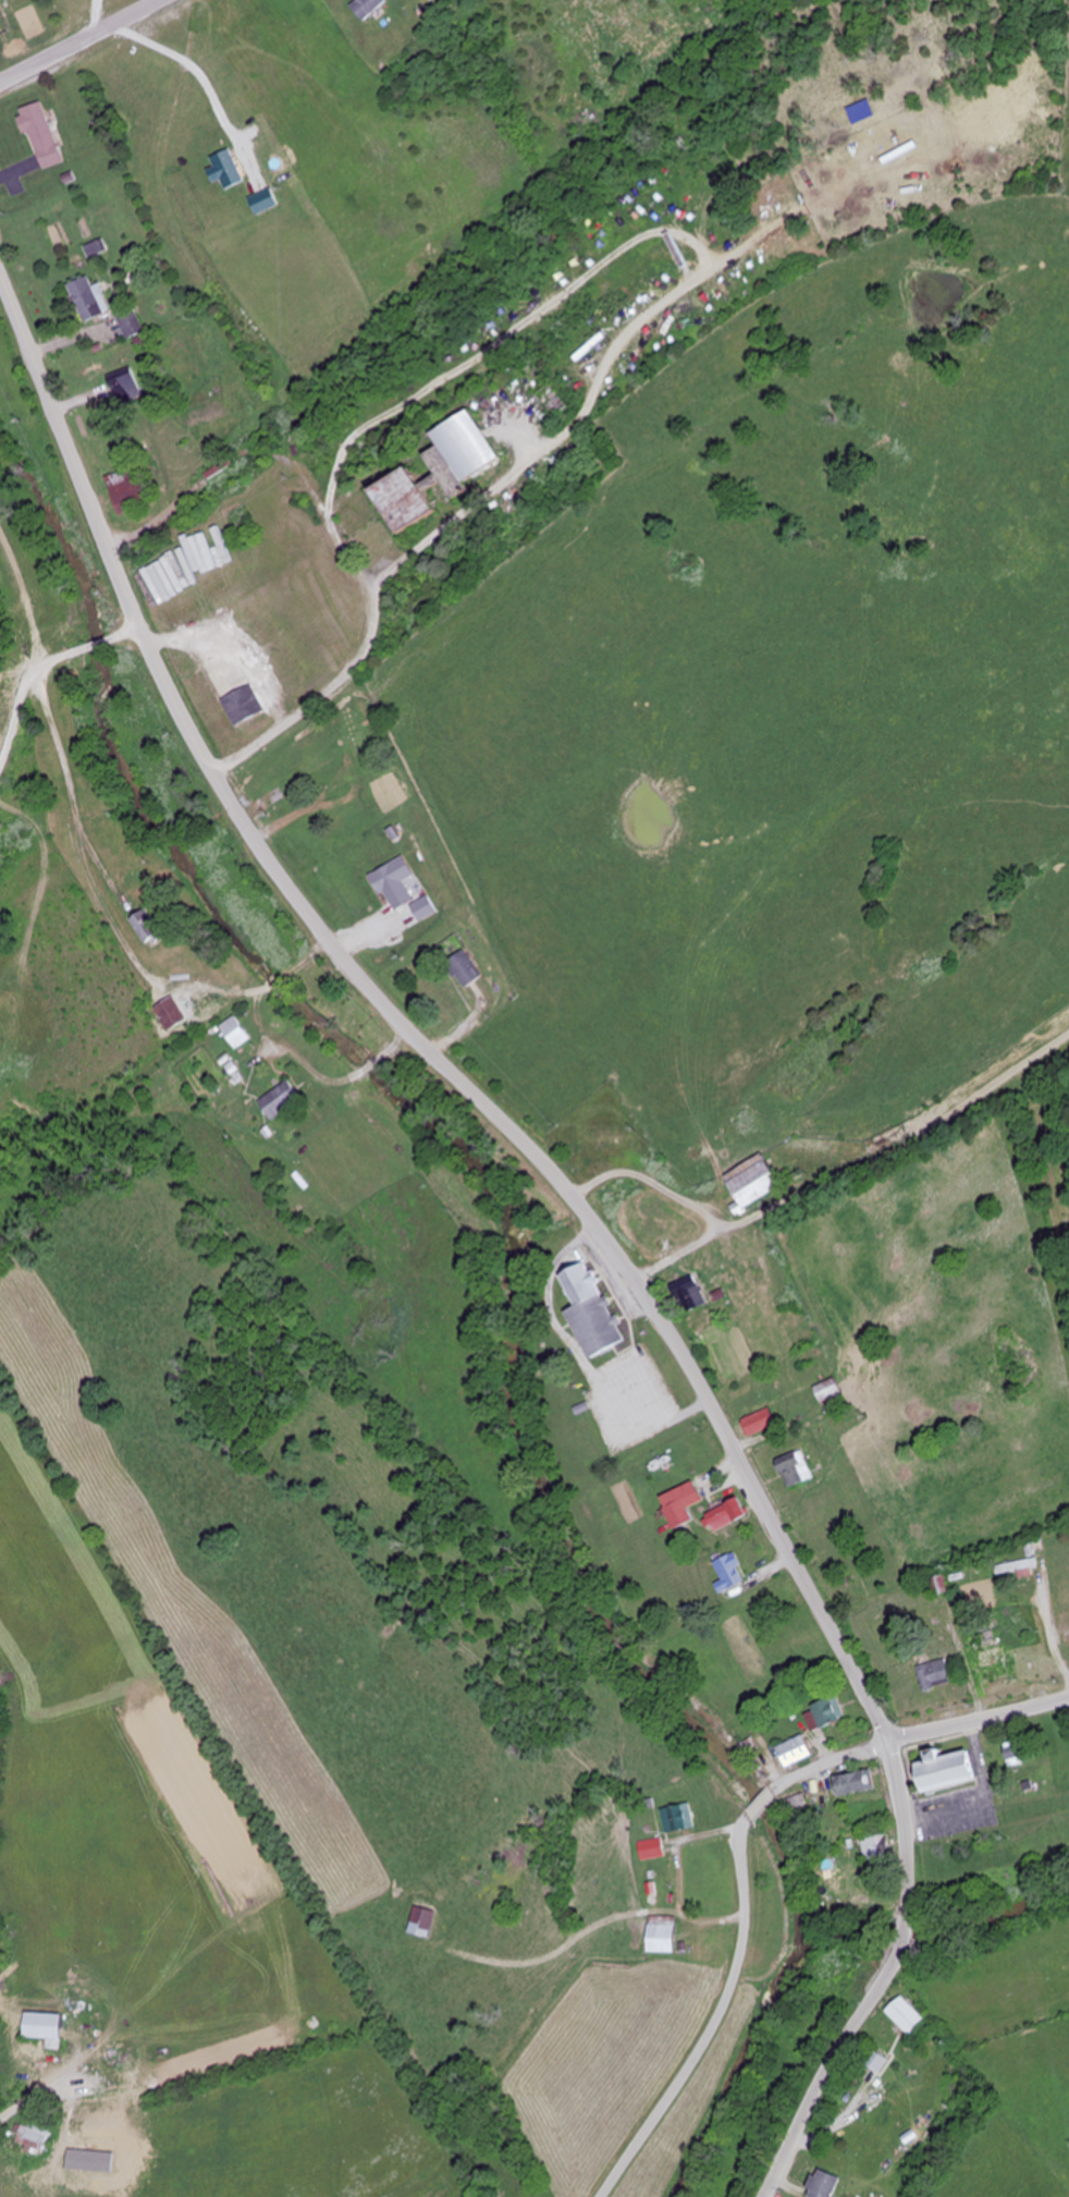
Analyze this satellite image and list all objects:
building: (367, 8)
road: (83, 42)
building: (39, 134)
building: (228, 168)
building: (265, 200)
building: (86, 298)
building: (128, 322)
building: (125, 386)
building: (444, 471)
building: (130, 489)
road: (340, 491)
building: (242, 705)
building: (352, 732)
building: (380, 740)
building: (394, 882)
building: (422, 908)
building: (147, 925)
building: (464, 968)
building: (171, 1013)
road: (407, 1029)
building: (236, 1032)
building: (281, 1100)
building: (753, 1181)
building: (689, 1294)
building: (592, 1313)
building: (827, 1391)
building: (759, 1423)
building: (795, 1469)
building: (681, 1504)
building: (727, 1515)
building: (1019, 1567)
building: (730, 1572)
building: (939, 1587)
building: (935, 1675)
building: (825, 1714)
road: (978, 1720)
building: (796, 1752)
building: (1015, 1754)
building: (947, 1772)
building: (857, 1784)
building: (798, 1805)
building: (678, 1819)
building: (875, 1847)
building: (652, 1850)
building: (422, 1924)
building: (662, 1934)
road: (741, 1944)
road: (883, 1981)
building: (906, 2015)
building: (45, 2028)
building: (878, 2060)
building: (35, 2137)
building: (823, 2185)

